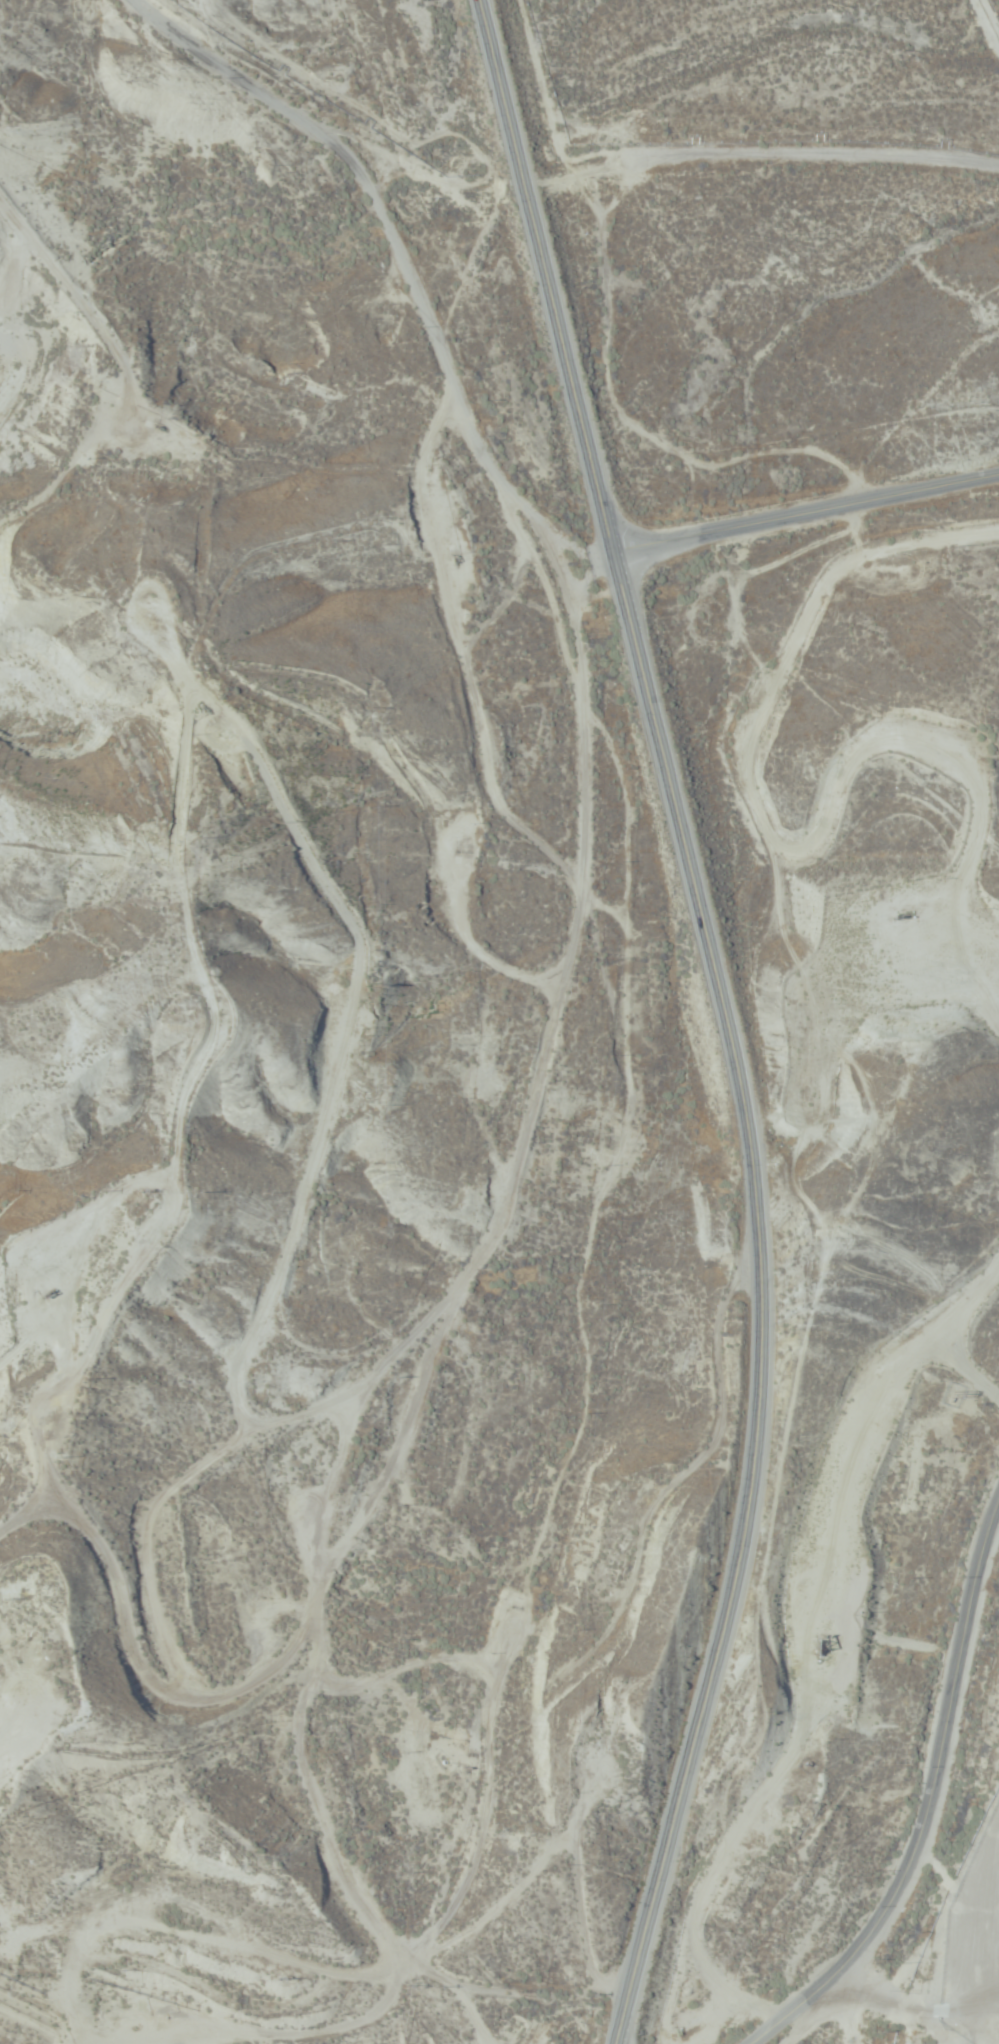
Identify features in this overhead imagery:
road: (806, 513)
road: (728, 1017)
road: (929, 1808)

